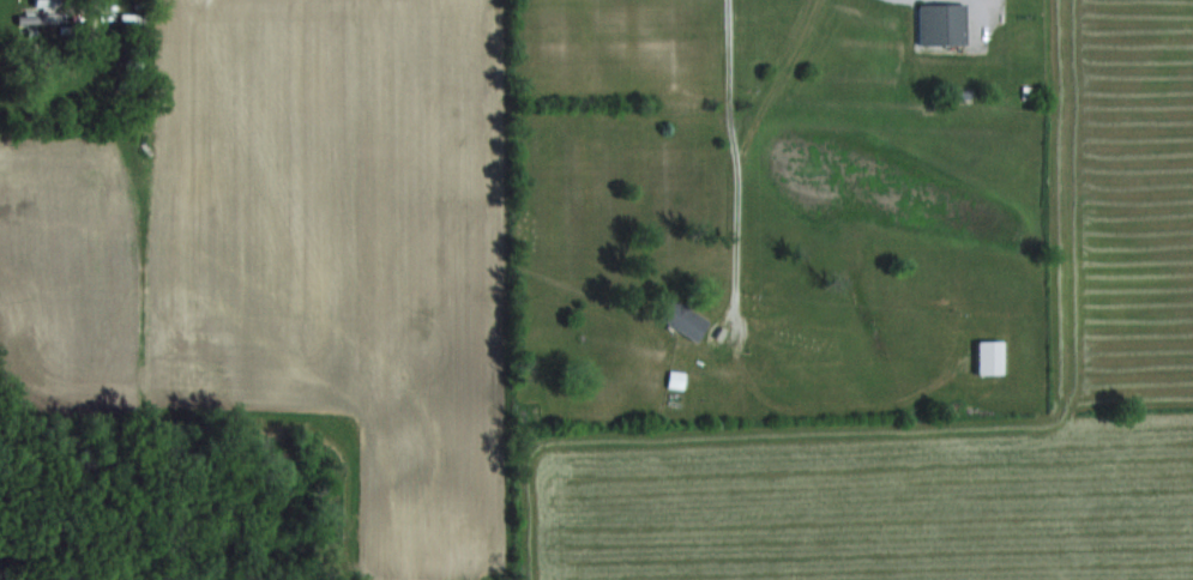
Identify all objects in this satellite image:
building: (938, 24)
building: (679, 319)
building: (984, 356)

